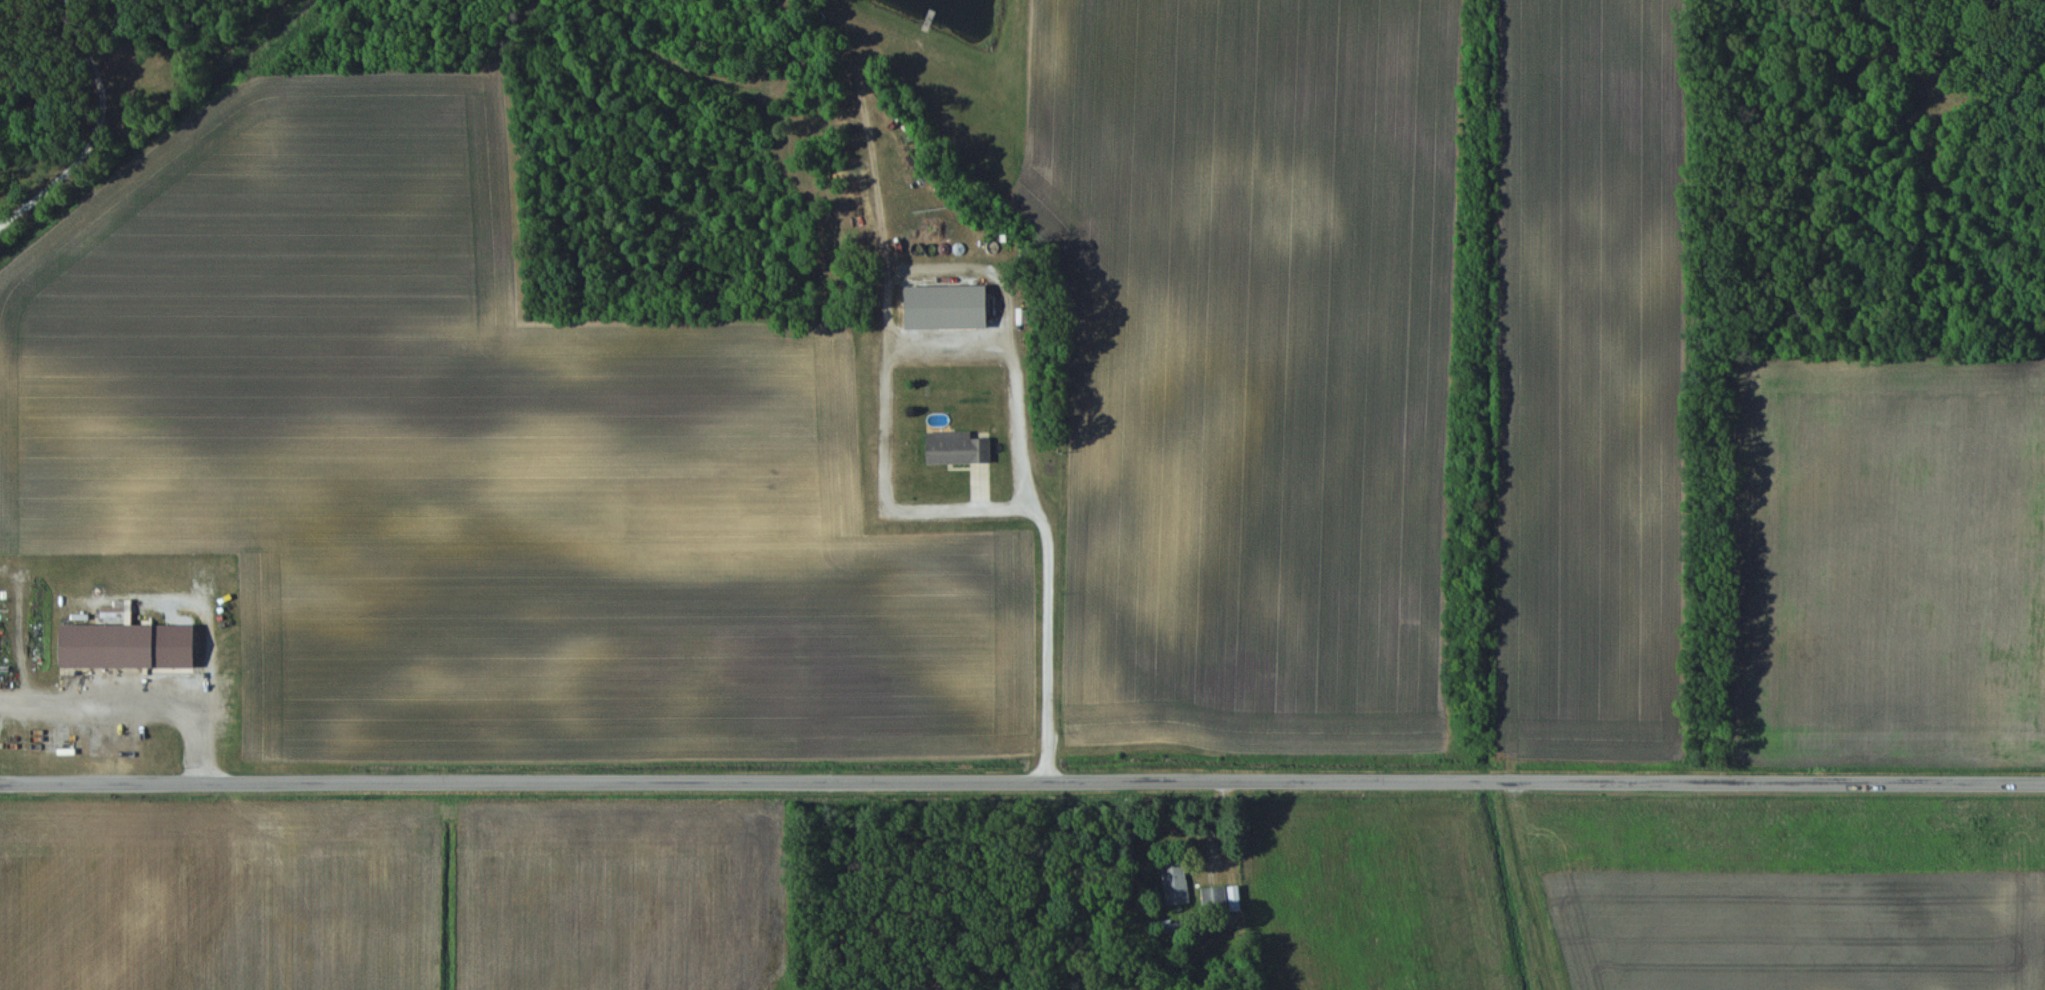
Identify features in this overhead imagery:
building: (958, 448)
road: (1051, 595)
building: (112, 646)
building: (136, 743)
road: (1022, 780)
building: (1174, 885)
building: (1222, 899)

